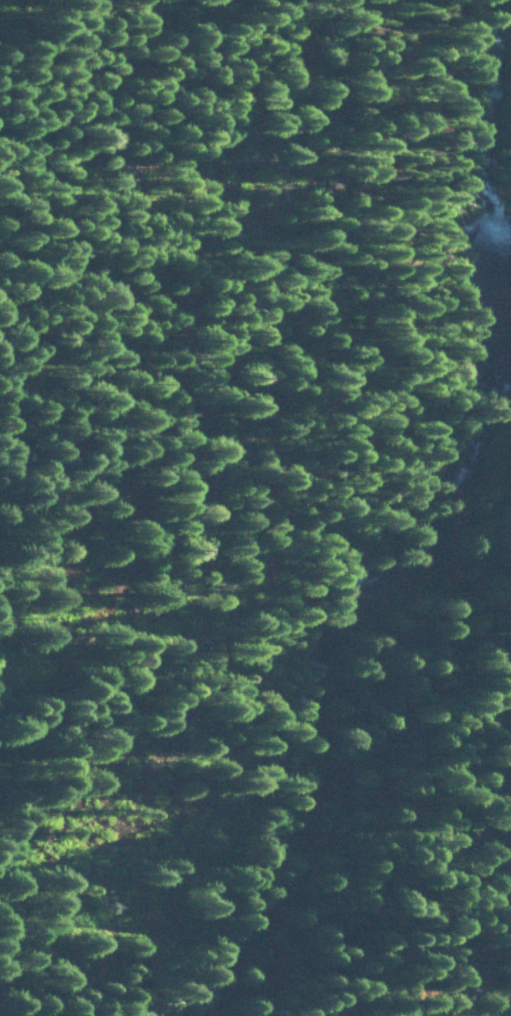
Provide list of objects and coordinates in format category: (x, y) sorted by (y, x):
road: (502, 114)
road: (364, 474)
river: (424, 532)
road: (364, 777)
road: (453, 931)

